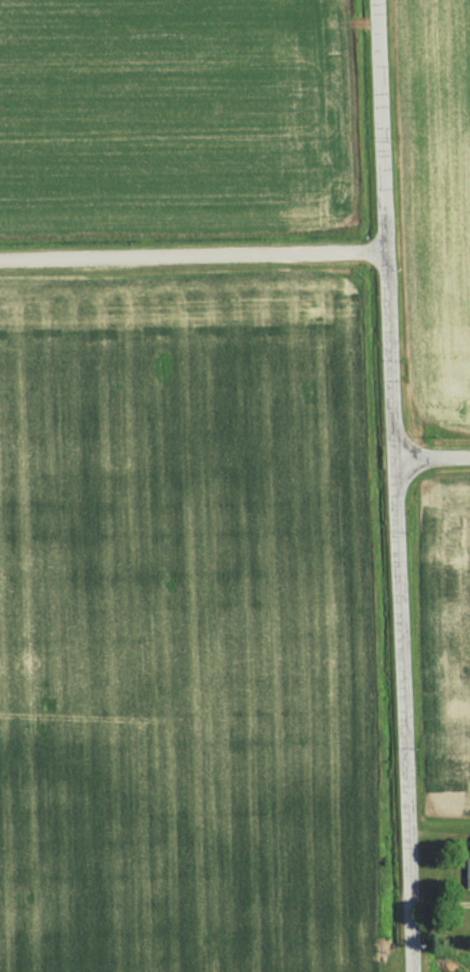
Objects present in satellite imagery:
road: (187, 252)
road: (428, 455)
road: (386, 485)
crop: (177, 675)
building: (467, 872)

